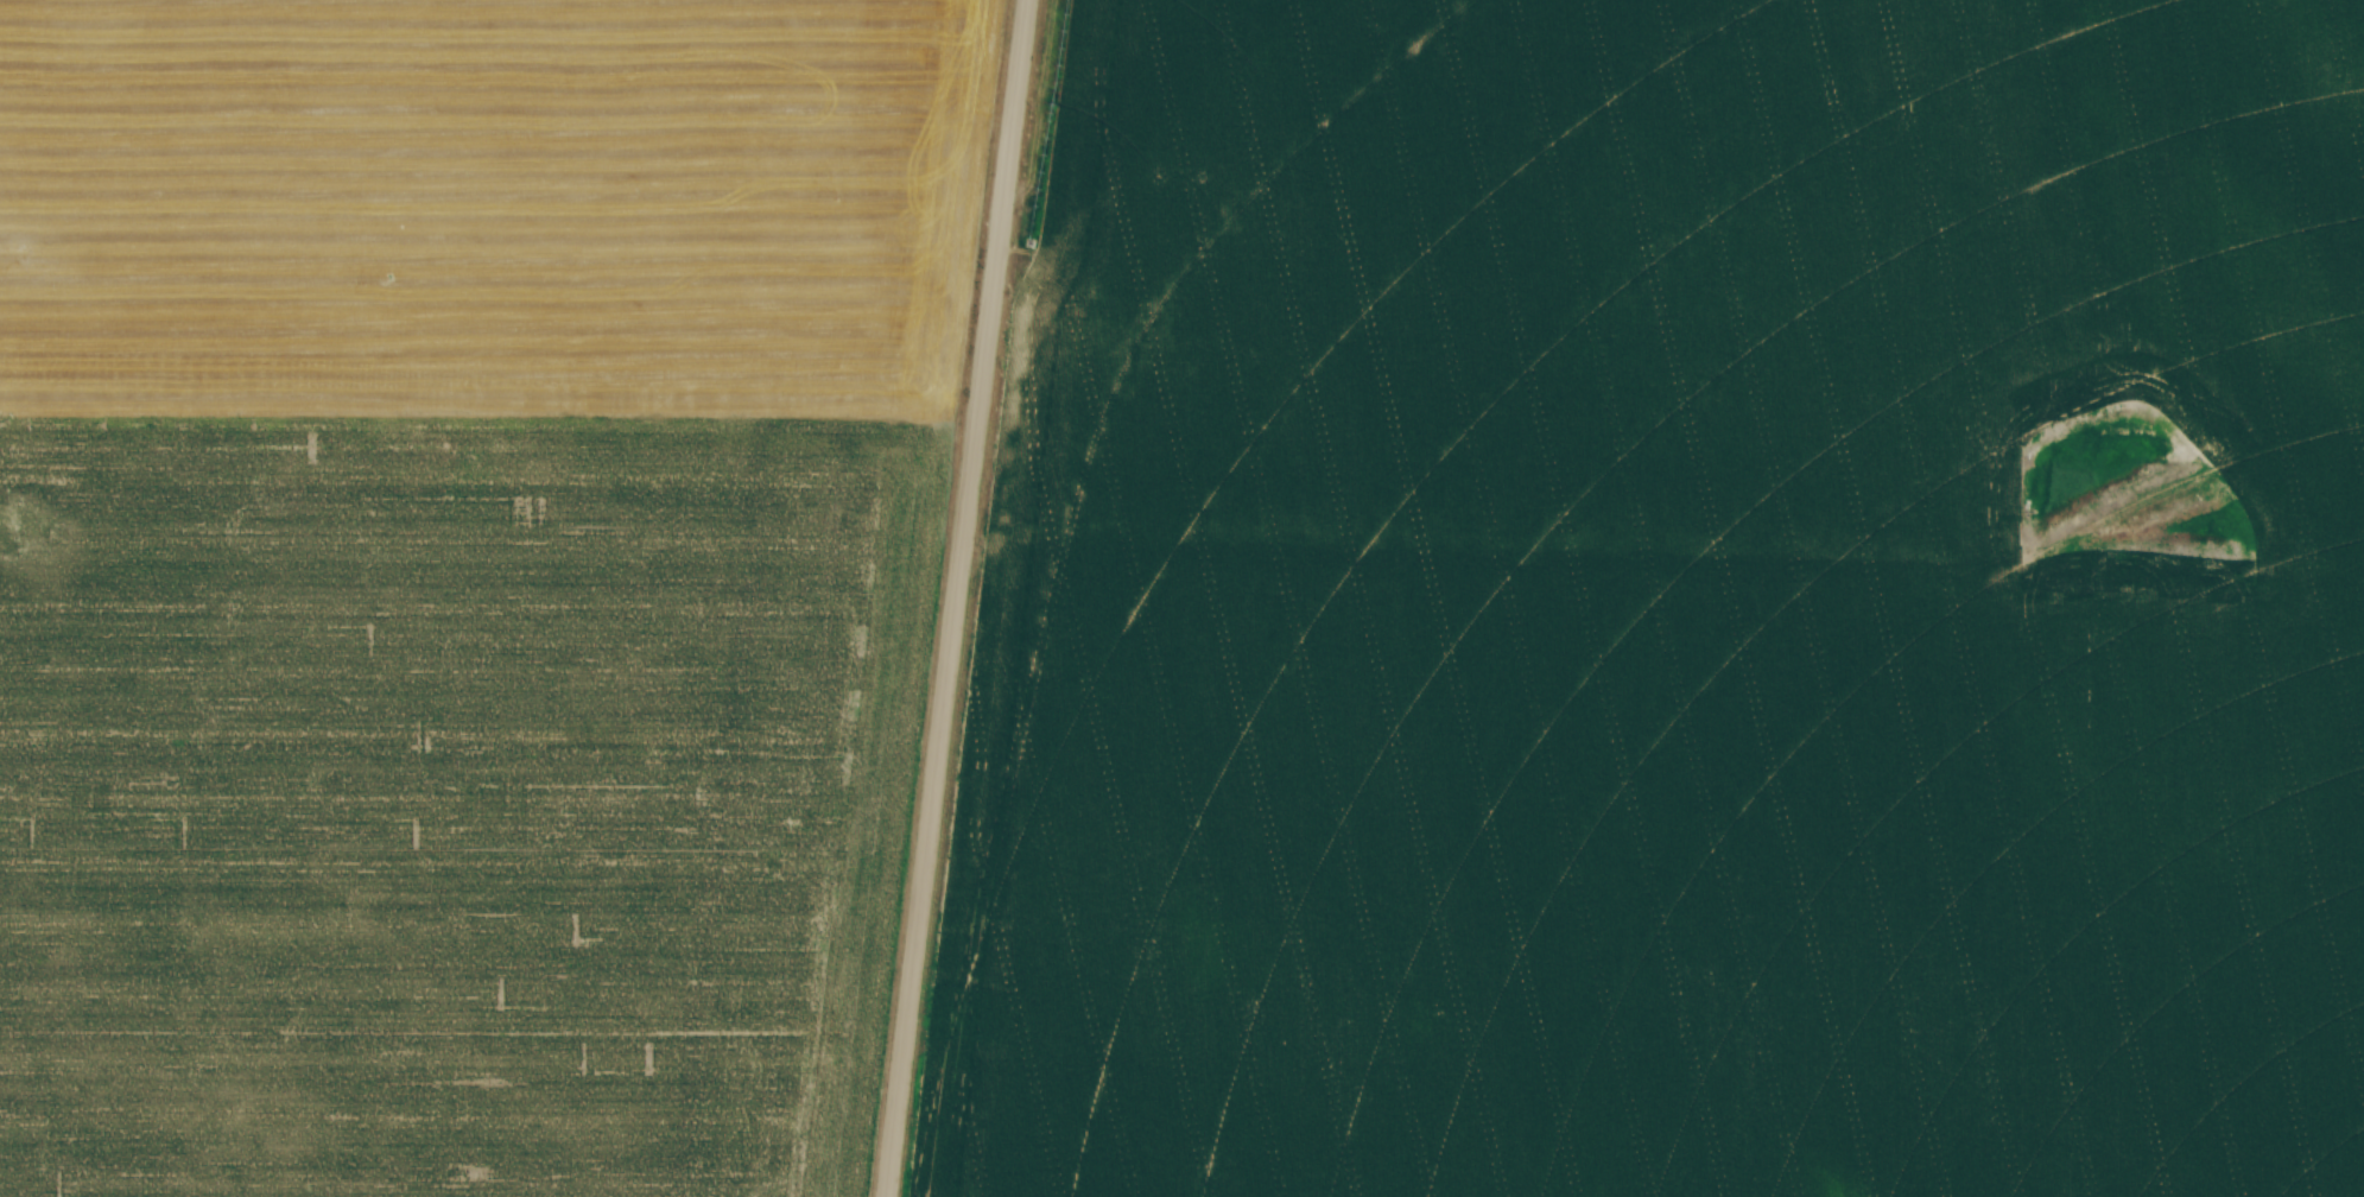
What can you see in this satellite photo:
crop: (467, 583)
road: (957, 597)
crop: (1672, 609)

